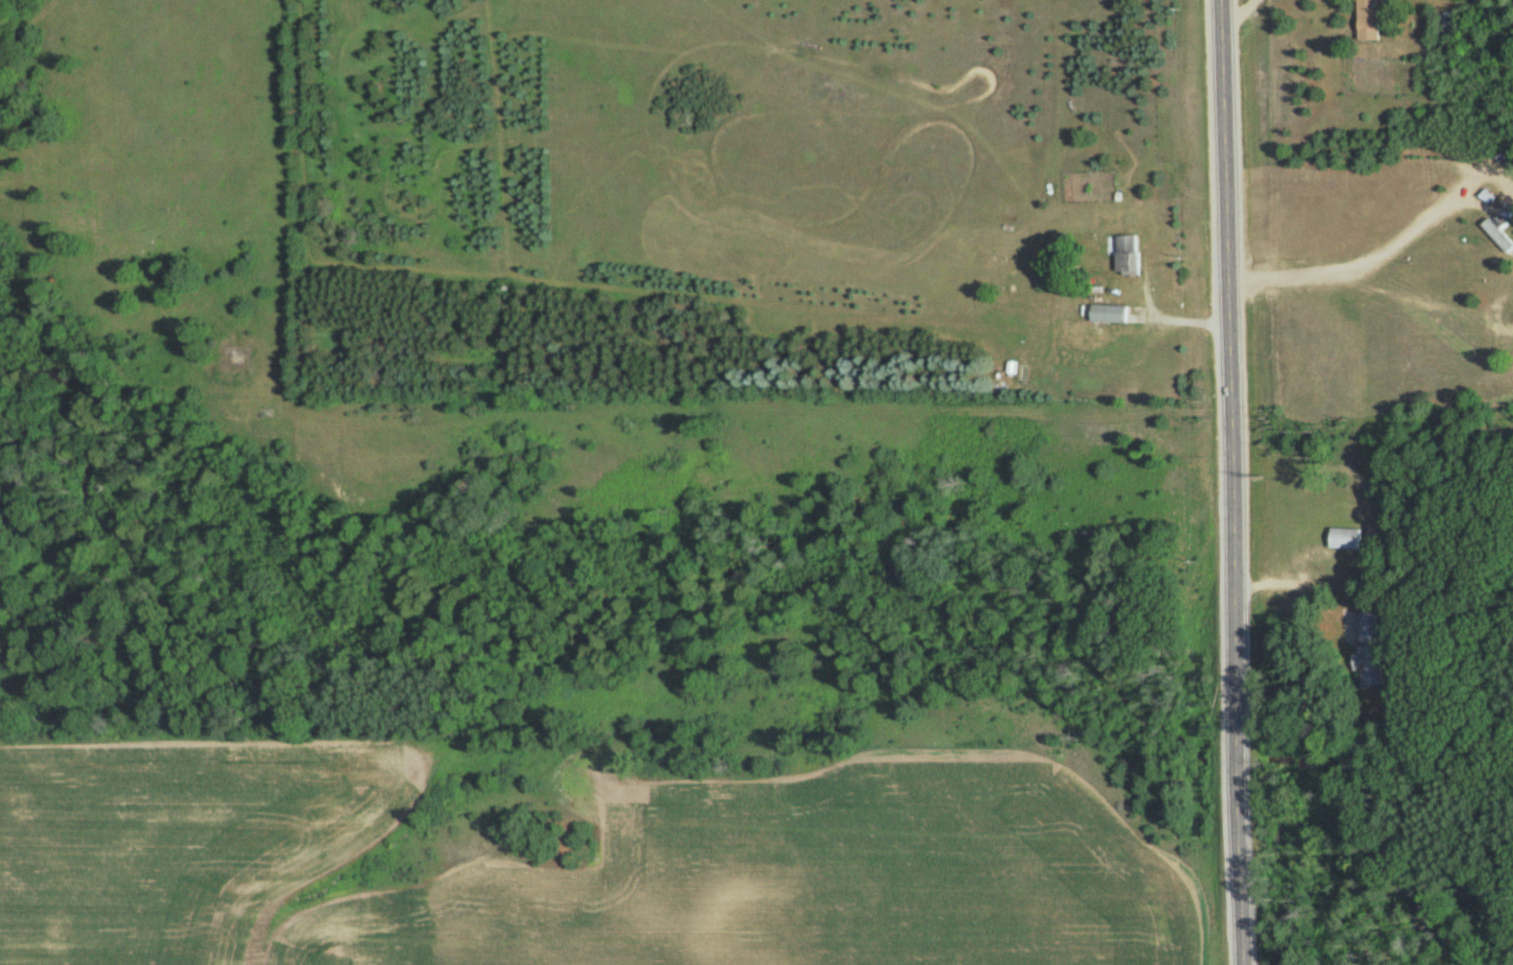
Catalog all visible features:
road: (1235, 14)
building: (1373, 18)
road: (1482, 173)
road: (1484, 204)
building: (1498, 235)
building: (1129, 254)
road: (1350, 267)
building: (1110, 313)
road: (1234, 482)
building: (1346, 538)
building: (1371, 650)

